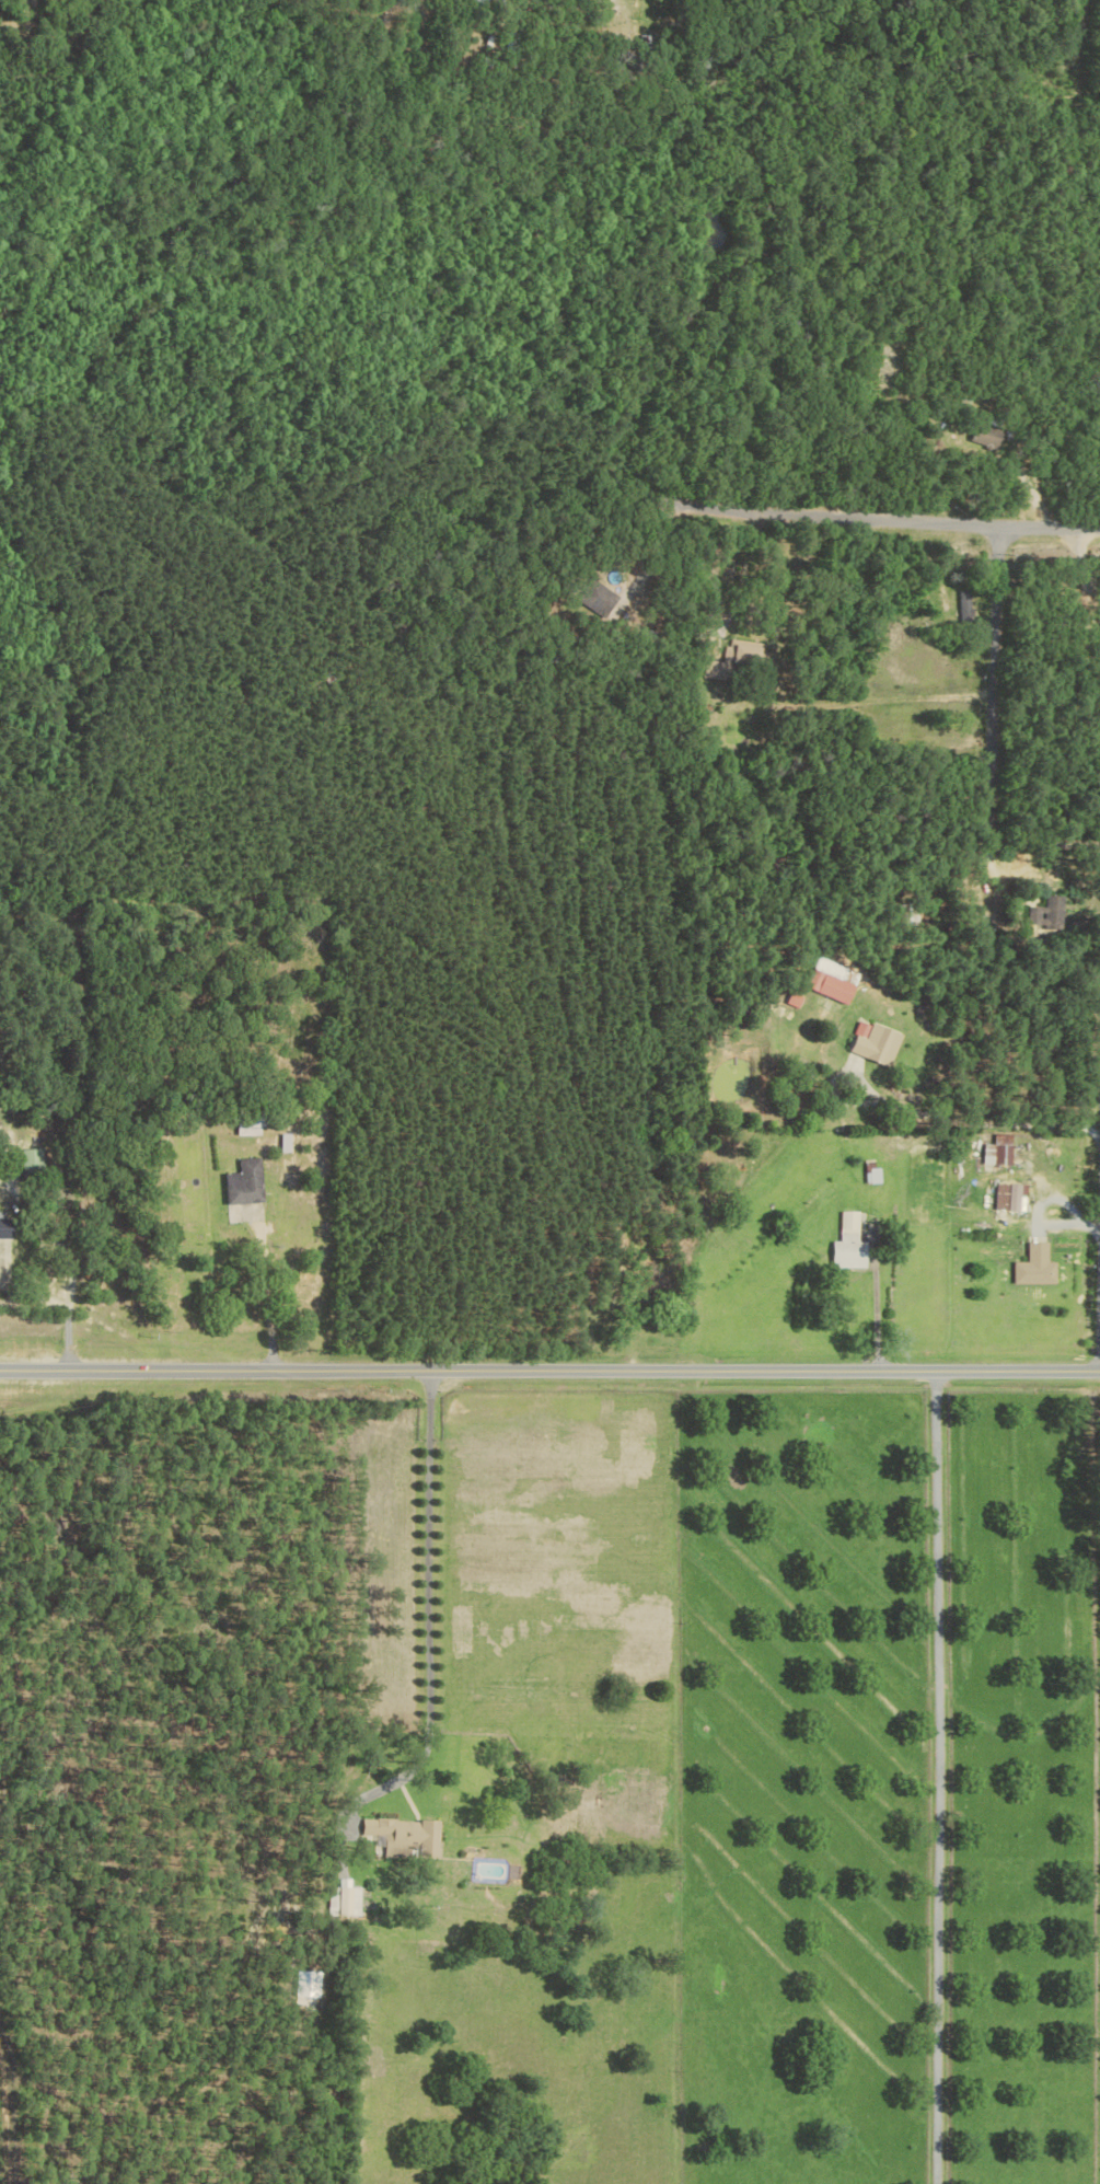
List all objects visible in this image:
building: (983, 435)
road: (871, 529)
building: (598, 600)
building: (707, 660)
road: (985, 767)
road: (1041, 843)
building: (1047, 913)
building: (834, 980)
building: (878, 1042)
road: (992, 1120)
building: (248, 1126)
building: (285, 1142)
building: (1000, 1151)
building: (32, 1159)
building: (245, 1182)
building: (1012, 1195)
building: (5, 1226)
building: (853, 1243)
building: (1038, 1266)
road: (269, 1291)
road: (68, 1301)
road: (887, 1315)
road: (549, 1378)
road: (441, 1578)
road: (940, 1777)
building: (400, 1836)
building: (344, 1900)

